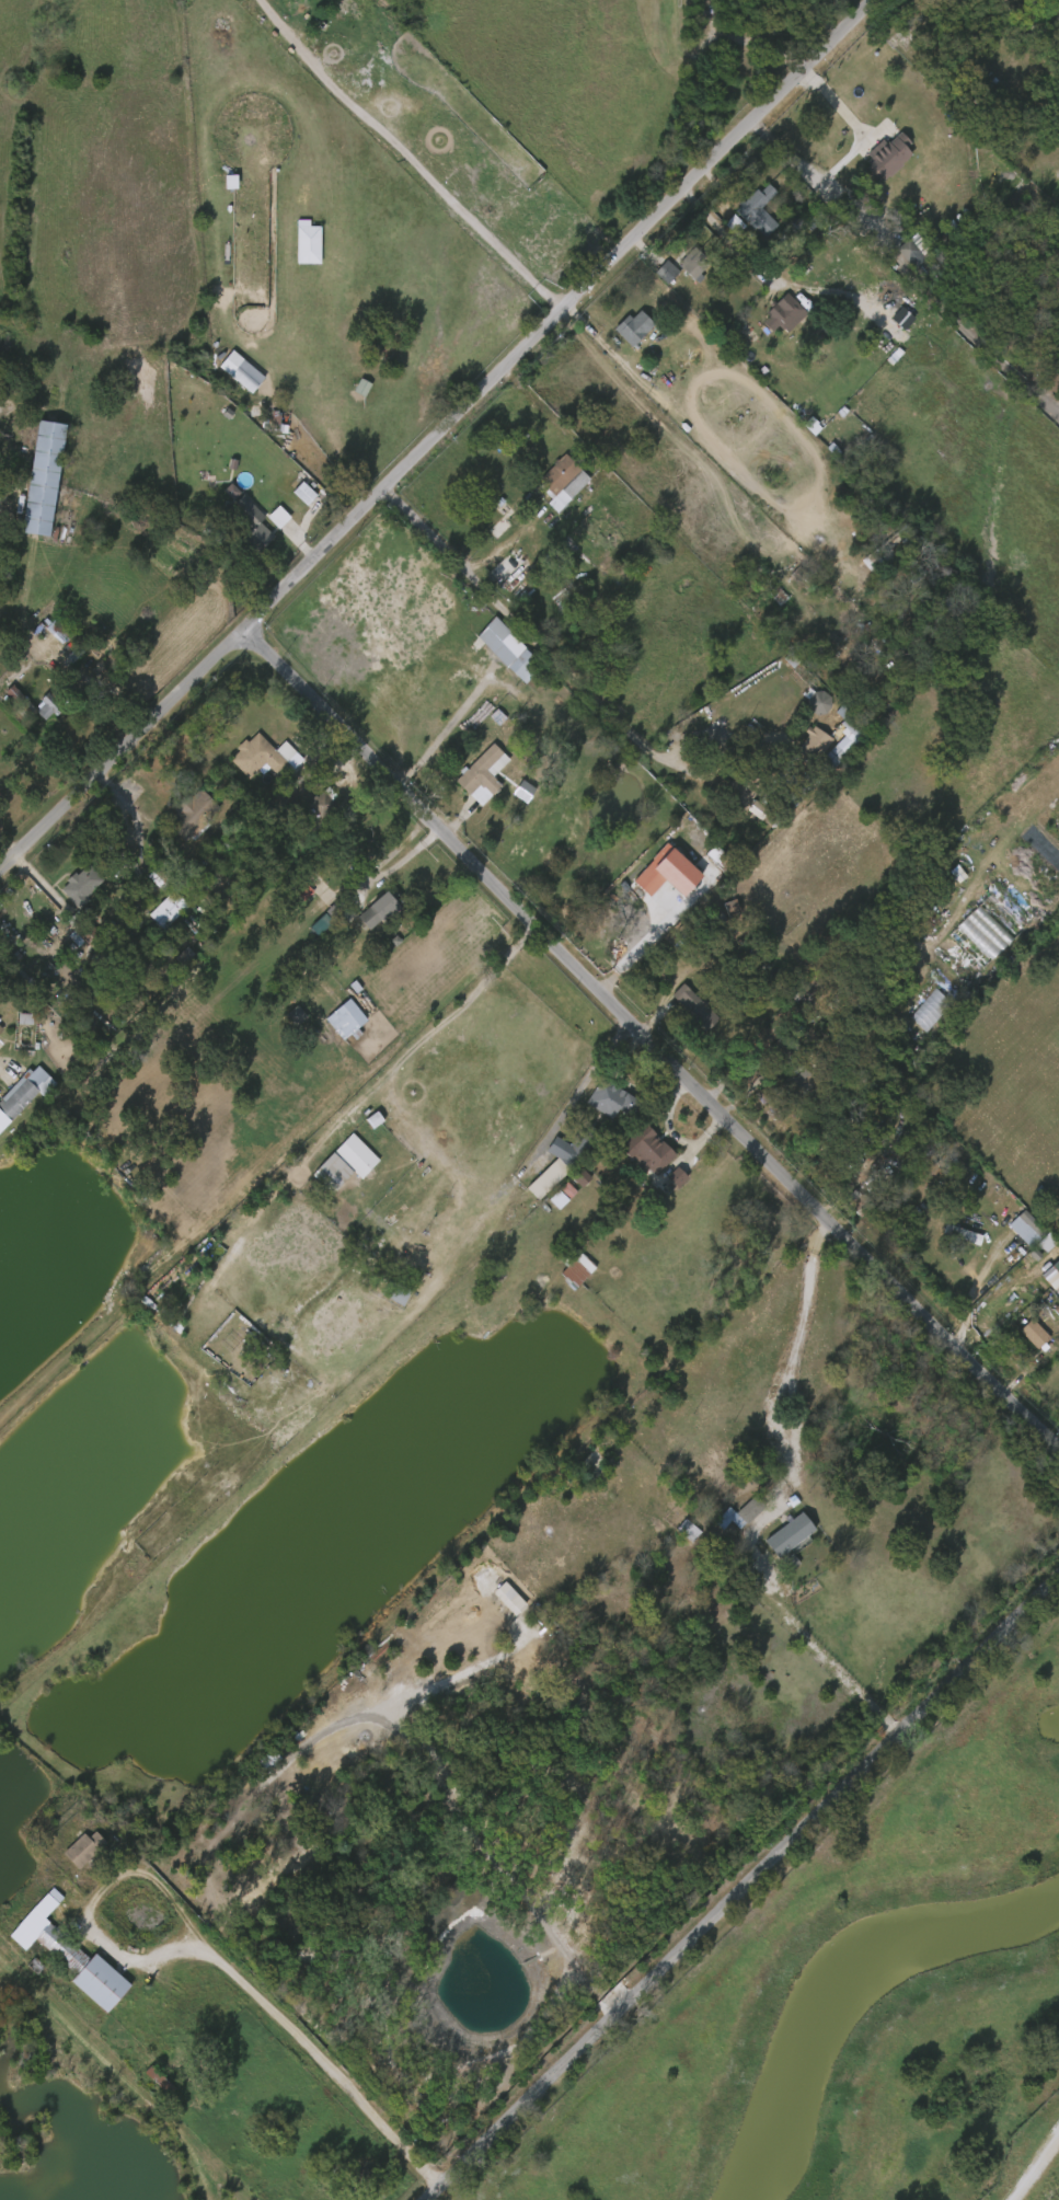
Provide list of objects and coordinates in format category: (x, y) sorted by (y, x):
building: (967, 14)
building: (1057, 34)
road: (840, 107)
building: (886, 156)
road: (410, 159)
building: (757, 210)
road: (732, 238)
building: (295, 249)
building: (898, 258)
building: (691, 263)
building: (681, 267)
building: (653, 276)
building: (784, 316)
road: (561, 319)
building: (628, 333)
building: (228, 376)
building: (250, 379)
building: (348, 391)
building: (46, 479)
building: (31, 482)
building: (562, 482)
building: (290, 497)
building: (265, 520)
building: (233, 521)
building: (497, 521)
building: (250, 525)
building: (511, 569)
road: (371, 572)
building: (774, 588)
road: (527, 623)
building: (494, 632)
building: (44, 634)
building: (477, 641)
building: (509, 670)
building: (21, 700)
building: (819, 702)
building: (805, 706)
building: (852, 728)
building: (811, 745)
road: (116, 751)
building: (261, 757)
road: (701, 774)
building: (483, 775)
building: (743, 788)
building: (325, 803)
building: (309, 808)
building: (745, 813)
building: (192, 816)
building: (667, 855)
road: (395, 865)
building: (653, 876)
building: (82, 885)
building: (193, 886)
building: (289, 897)
building: (168, 910)
building: (381, 911)
building: (154, 913)
building: (367, 913)
building: (82, 928)
building: (959, 947)
building: (694, 1009)
building: (680, 1010)
building: (348, 1018)
building: (284, 1020)
building: (333, 1024)
building: (0, 1028)
road: (644, 1047)
building: (798, 1081)
building: (24, 1093)
building: (612, 1098)
building: (647, 1149)
building: (568, 1151)
building: (358, 1152)
building: (343, 1159)
building: (838, 1170)
building: (322, 1173)
building: (567, 1180)
building: (663, 1180)
building: (860, 1201)
building: (1027, 1228)
building: (1012, 1231)
building: (964, 1234)
building: (948, 1237)
building: (1033, 1245)
building: (1039, 1247)
building: (575, 1267)
building: (1044, 1278)
building: (1057, 1295)
building: (1036, 1334)
building: (1020, 1337)
road: (778, 1499)
building: (726, 1518)
building: (675, 1533)
building: (775, 1537)
road: (672, 1747)
building: (88, 1848)
building: (70, 1852)
road: (736, 1880)
road: (202, 1950)
building: (73, 1955)
building: (57, 1957)
wastewater plant: (873, 2016)
building: (146, 2083)
road: (1043, 2175)

